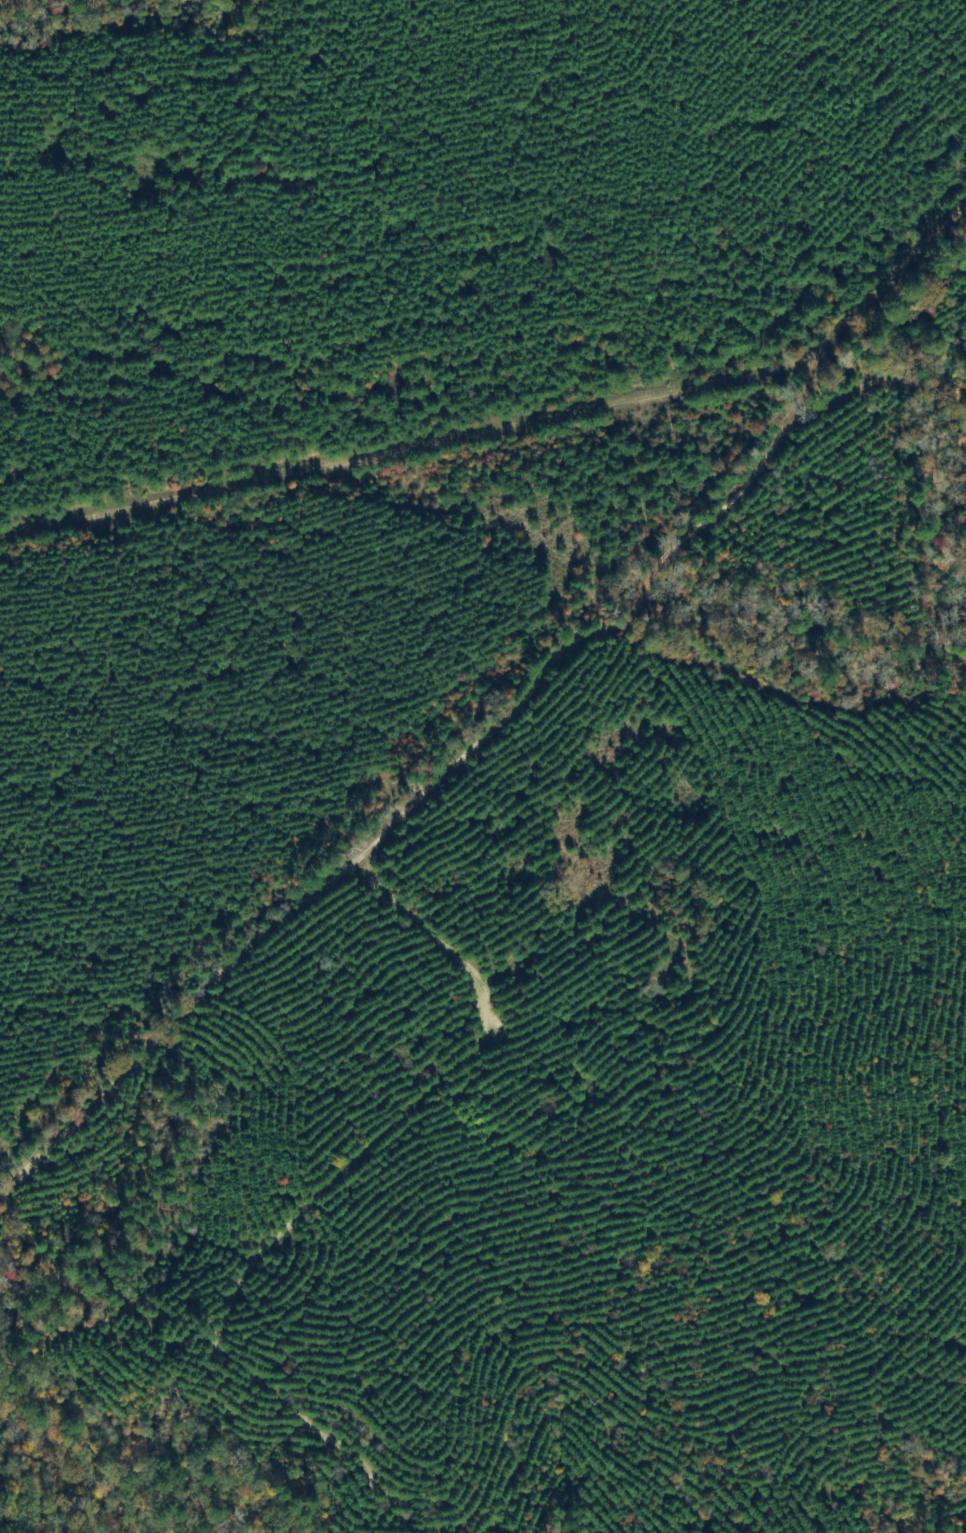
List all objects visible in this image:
road: (646, 396)
road: (135, 506)
road: (472, 749)

